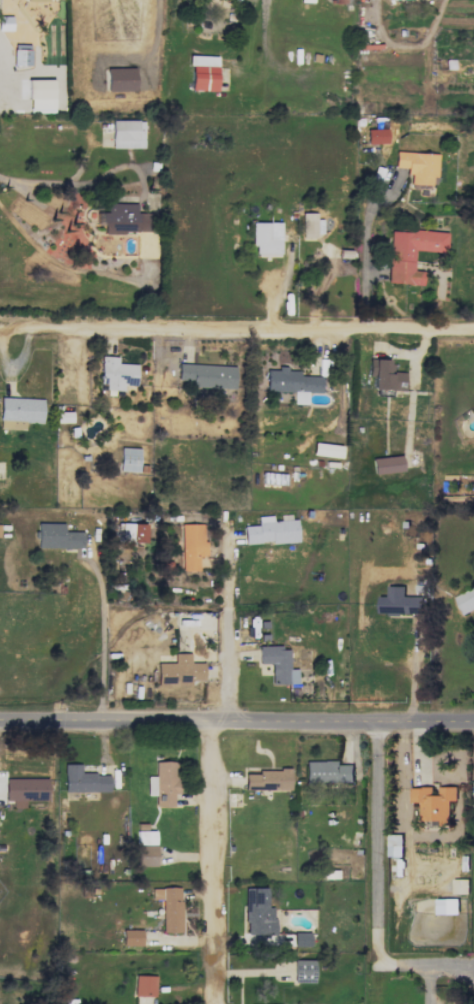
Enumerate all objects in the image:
building: (38, 0)
building: (339, 1)
building: (21, 57)
building: (202, 73)
building: (120, 79)
building: (40, 95)
building: (127, 134)
building: (376, 136)
building: (417, 166)
road: (84, 182)
building: (123, 219)
building: (310, 223)
building: (265, 239)
road: (368, 245)
building: (410, 253)
road: (235, 326)
building: (115, 373)
building: (207, 375)
building: (385, 375)
building: (292, 383)
building: (19, 412)
building: (326, 450)
building: (129, 459)
building: (387, 464)
building: (270, 531)
building: (131, 532)
building: (56, 536)
building: (191, 545)
road: (102, 592)
building: (466, 600)
building: (398, 602)
road: (229, 623)
building: (277, 664)
building: (179, 671)
road: (413, 672)
road: (237, 722)
building: (327, 771)
building: (268, 779)
building: (83, 780)
building: (163, 783)
building: (25, 790)
building: (433, 802)
building: (399, 845)
building: (145, 848)
road: (215, 863)
building: (460, 886)
road: (378, 890)
building: (446, 906)
building: (169, 907)
building: (266, 922)
building: (131, 937)
building: (303, 970)
building: (144, 985)

